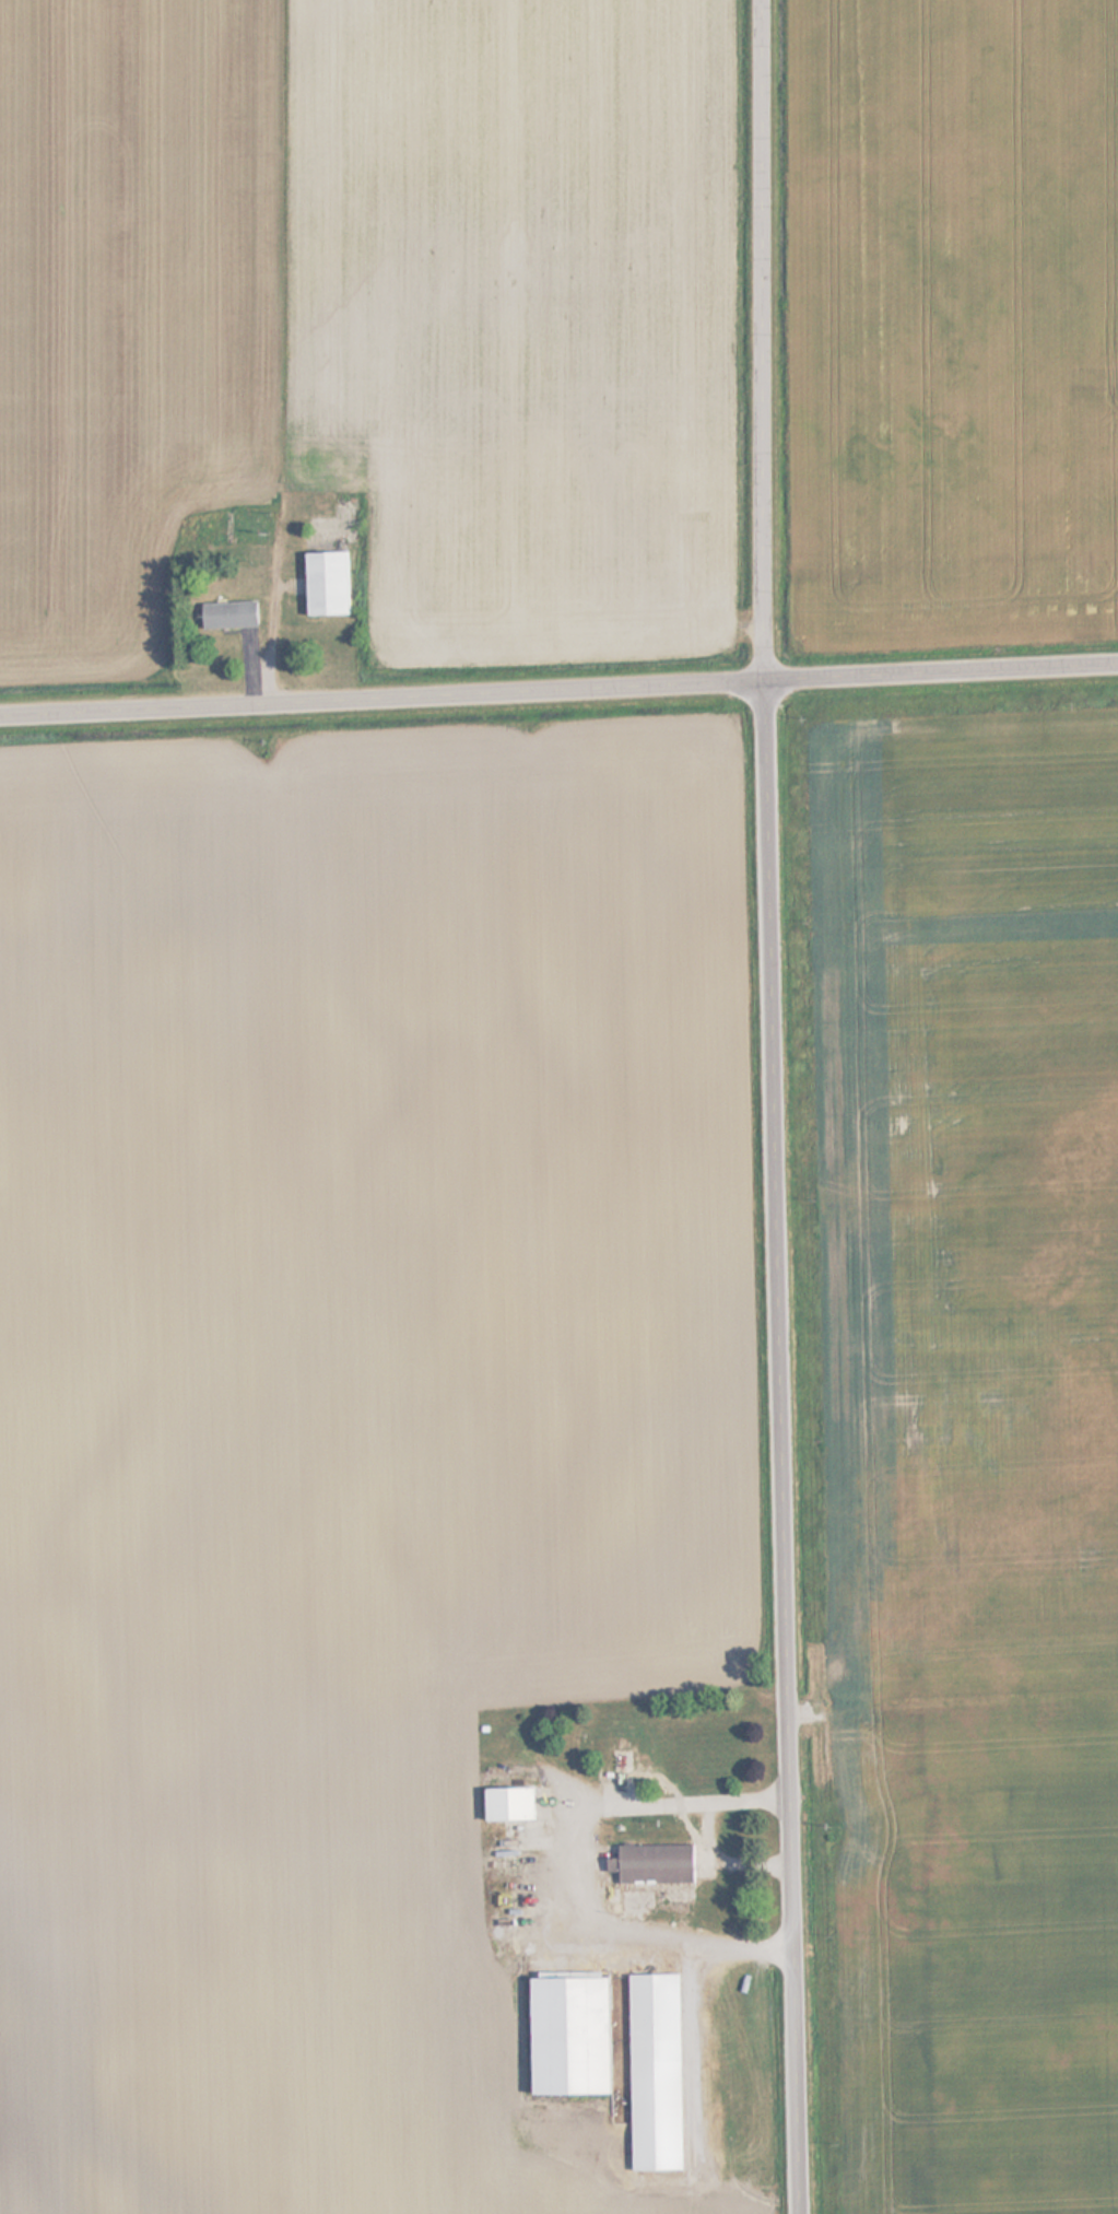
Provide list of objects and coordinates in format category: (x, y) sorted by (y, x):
building: (323, 584)
building: (227, 616)
road: (558, 689)
road: (781, 1106)
building: (631, 1748)
building: (505, 1802)
building: (651, 1862)
road: (568, 1876)
building: (565, 2034)
building: (650, 2071)

